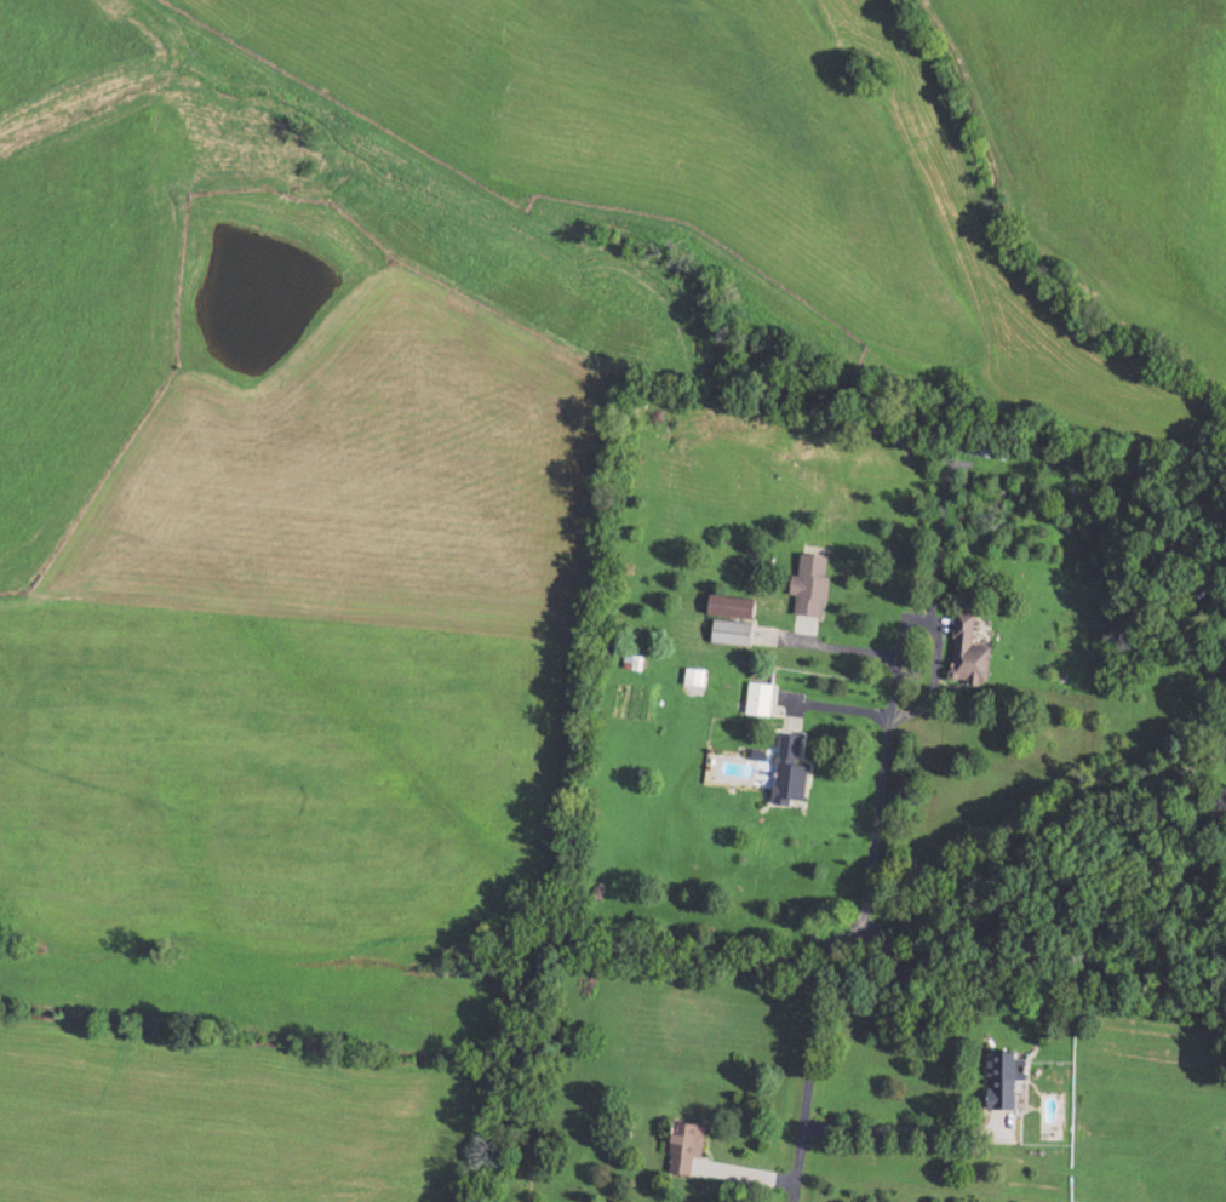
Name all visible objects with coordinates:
building: (813, 584)
building: (734, 633)
building: (969, 652)
building: (792, 768)
road: (860, 912)
building: (1004, 1078)
building: (688, 1146)

